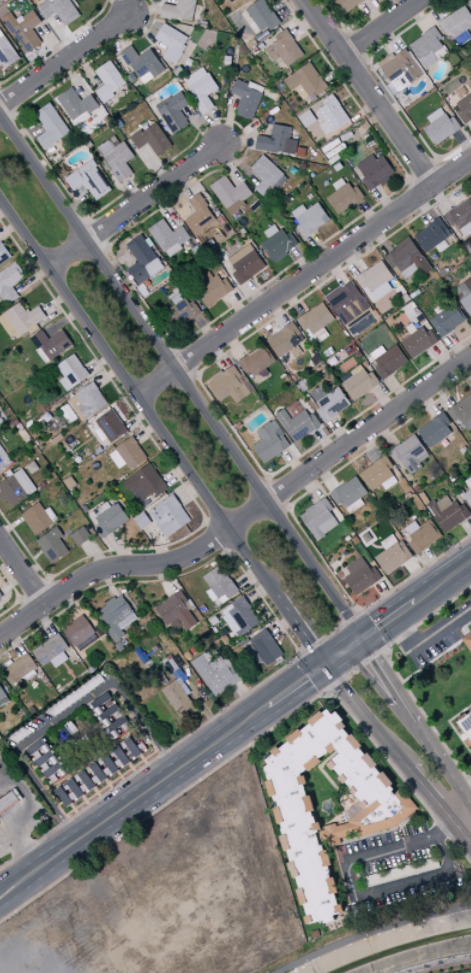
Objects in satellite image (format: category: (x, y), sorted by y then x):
building: (51, 0)
building: (233, 1)
building: (470, 3)
building: (347, 5)
road: (120, 6)
road: (129, 6)
road: (392, 7)
road: (289, 8)
road: (436, 9)
building: (59, 10)
road: (146, 10)
building: (179, 10)
road: (373, 13)
building: (263, 16)
road: (419, 17)
building: (10, 20)
building: (20, 20)
building: (457, 22)
road: (304, 25)
road: (354, 25)
road: (381, 27)
building: (254, 28)
road: (346, 28)
building: (28, 31)
road: (145, 32)
road: (63, 33)
road: (117, 36)
building: (463, 38)
road: (390, 39)
road: (332, 40)
road: (52, 41)
building: (172, 42)
road: (57, 45)
road: (356, 45)
building: (261, 46)
building: (427, 47)
building: (287, 48)
building: (256, 50)
building: (441, 52)
building: (7, 53)
building: (272, 54)
road: (64, 58)
road: (368, 59)
building: (143, 62)
road: (352, 67)
road: (86, 70)
building: (400, 70)
road: (337, 72)
building: (195, 76)
road: (74, 77)
building: (147, 78)
building: (310, 80)
building: (109, 81)
building: (292, 82)
road: (384, 85)
building: (255, 87)
building: (392, 89)
building: (203, 92)
road: (368, 92)
building: (462, 92)
building: (246, 99)
building: (77, 103)
road: (7, 104)
building: (465, 109)
building: (174, 111)
road: (363, 111)
building: (334, 113)
road: (17, 115)
building: (82, 118)
building: (50, 119)
road: (7, 120)
road: (229, 120)
building: (322, 122)
road: (217, 126)
building: (441, 126)
road: (200, 128)
building: (313, 129)
road: (28, 131)
building: (61, 134)
building: (151, 137)
building: (47, 139)
building: (274, 139)
road: (237, 140)
building: (114, 141)
road: (463, 143)
building: (291, 146)
building: (105, 148)
building: (326, 148)
road: (437, 158)
road: (47, 159)
building: (120, 161)
road: (239, 162)
building: (366, 162)
road: (155, 164)
road: (228, 164)
building: (87, 167)
road: (423, 170)
building: (376, 172)
road: (445, 172)
building: (266, 175)
road: (408, 179)
building: (89, 182)
building: (280, 182)
building: (339, 183)
road: (185, 185)
road: (132, 191)
building: (230, 191)
road: (420, 193)
building: (344, 197)
road: (440, 197)
road: (384, 200)
road: (76, 202)
road: (134, 206)
building: (235, 207)
road: (424, 208)
road: (165, 209)
building: (264, 209)
building: (299, 210)
road: (3, 211)
road: (368, 213)
building: (199, 215)
building: (461, 216)
road: (87, 217)
building: (312, 219)
road: (141, 221)
road: (7, 229)
building: (271, 230)
road: (97, 233)
building: (169, 234)
building: (432, 235)
building: (219, 237)
road: (380, 239)
road: (58, 240)
building: (278, 244)
road: (109, 247)
road: (319, 248)
building: (174, 249)
building: (197, 251)
building: (4, 254)
building: (241, 254)
building: (281, 256)
building: (404, 256)
road: (301, 259)
building: (143, 260)
road: (351, 260)
road: (117, 262)
building: (247, 266)
road: (77, 267)
building: (409, 270)
road: (336, 271)
building: (207, 276)
road: (303, 276)
building: (374, 277)
road: (32, 280)
building: (10, 282)
building: (382, 289)
building: (214, 290)
building: (0, 291)
building: (367, 291)
road: (255, 294)
building: (464, 294)
building: (176, 295)
building: (190, 298)
road: (292, 302)
building: (347, 302)
road: (55, 303)
road: (237, 306)
building: (181, 312)
road: (277, 312)
building: (316, 318)
building: (20, 319)
building: (376, 319)
building: (448, 319)
road: (62, 322)
building: (411, 328)
building: (33, 329)
road: (205, 329)
building: (316, 334)
building: (286, 341)
building: (419, 341)
building: (51, 343)
road: (176, 344)
road: (233, 344)
road: (456, 346)
road: (223, 352)
building: (377, 352)
building: (326, 353)
building: (43, 355)
road: (443, 356)
building: (287, 358)
road: (185, 360)
building: (257, 360)
building: (390, 361)
road: (98, 363)
road: (467, 363)
road: (146, 367)
building: (356, 369)
building: (73, 370)
road: (180, 375)
road: (198, 375)
road: (107, 376)
building: (295, 377)
building: (360, 383)
building: (65, 384)
building: (229, 384)
building: (304, 384)
road: (397, 388)
road: (205, 390)
building: (319, 393)
road: (442, 393)
road: (165, 395)
road: (137, 397)
road: (383, 399)
building: (90, 400)
road: (428, 402)
building: (332, 404)
building: (76, 406)
building: (461, 410)
building: (295, 411)
building: (68, 413)
road: (137, 418)
building: (1, 421)
building: (298, 423)
building: (111, 425)
building: (468, 425)
building: (435, 430)
road: (146, 431)
road: (339, 431)
road: (385, 433)
building: (286, 437)
building: (56, 438)
building: (251, 439)
building: (270, 441)
road: (325, 441)
road: (369, 445)
building: (131, 452)
building: (408, 453)
building: (422, 457)
building: (4, 459)
building: (117, 459)
road: (293, 462)
building: (33, 467)
building: (9, 472)
road: (175, 473)
building: (377, 473)
road: (325, 475)
road: (177, 476)
building: (25, 481)
building: (468, 482)
building: (69, 483)
building: (145, 483)
building: (390, 483)
building: (404, 483)
building: (43, 484)
road: (311, 486)
building: (12, 490)
road: (187, 491)
building: (349, 492)
road: (277, 493)
building: (431, 493)
building: (466, 495)
building: (424, 498)
road: (238, 501)
building: (355, 505)
building: (101, 509)
building: (448, 513)
building: (52, 514)
building: (169, 516)
road: (244, 516)
building: (37, 518)
building: (319, 518)
building: (111, 519)
building: (142, 520)
road: (206, 521)
road: (297, 522)
road: (468, 522)
road: (11, 526)
building: (390, 527)
building: (412, 527)
road: (257, 528)
road: (218, 535)
building: (80, 536)
building: (424, 536)
building: (348, 538)
building: (355, 540)
building: (388, 541)
road: (157, 543)
building: (401, 543)
road: (75, 544)
building: (52, 545)
road: (120, 547)
road: (227, 551)
road: (95, 553)
road: (38, 555)
building: (393, 557)
road: (432, 565)
road: (22, 571)
building: (361, 576)
road: (418, 576)
road: (49, 577)
road: (247, 577)
road: (164, 578)
road: (443, 580)
road: (13, 583)
road: (108, 583)
building: (220, 583)
road: (35, 589)
road: (258, 592)
road: (16, 593)
road: (59, 593)
building: (1, 595)
building: (212, 595)
road: (387, 597)
road: (19, 599)
road: (70, 603)
road: (361, 610)
building: (176, 611)
road: (31, 612)
building: (243, 615)
building: (114, 616)
road: (388, 620)
road: (46, 621)
building: (126, 621)
building: (176, 624)
road: (281, 625)
road: (300, 629)
building: (78, 630)
road: (370, 631)
road: (330, 633)
road: (427, 638)
traffic signals: (360, 639)
road: (15, 641)
building: (467, 641)
building: (245, 642)
building: (120, 646)
building: (266, 646)
road: (296, 647)
road: (450, 647)
building: (50, 649)
road: (342, 651)
road: (385, 651)
building: (254, 655)
building: (59, 659)
building: (6, 664)
traffic signals: (325, 664)
building: (171, 665)
building: (19, 669)
road: (313, 669)
road: (355, 669)
building: (216, 672)
building: (30, 675)
road: (398, 675)
road: (296, 684)
road: (327, 691)
road: (112, 693)
building: (75, 695)
building: (3, 697)
road: (247, 698)
building: (180, 701)
road: (119, 704)
road: (202, 704)
building: (0, 706)
building: (470, 711)
road: (460, 713)
road: (64, 716)
building: (110, 716)
road: (129, 717)
road: (412, 723)
road: (136, 724)
road: (96, 725)
building: (466, 729)
road: (455, 730)
road: (461, 734)
building: (19, 735)
road: (253, 741)
road: (62, 749)
road: (397, 754)
road: (27, 756)
road: (93, 757)
road: (143, 759)
building: (46, 760)
road: (35, 767)
road: (132, 768)
building: (100, 769)
road: (120, 776)
road: (111, 783)
road: (48, 784)
road: (109, 784)
road: (45, 785)
road: (151, 787)
road: (97, 792)
road: (467, 792)
road: (55, 796)
road: (59, 799)
road: (86, 800)
building: (10, 801)
road: (60, 804)
road: (74, 809)
building: (377, 818)
road: (452, 821)
road: (24, 853)
building: (401, 872)
road: (17, 874)
road: (22, 892)
road: (363, 894)
road: (437, 963)

